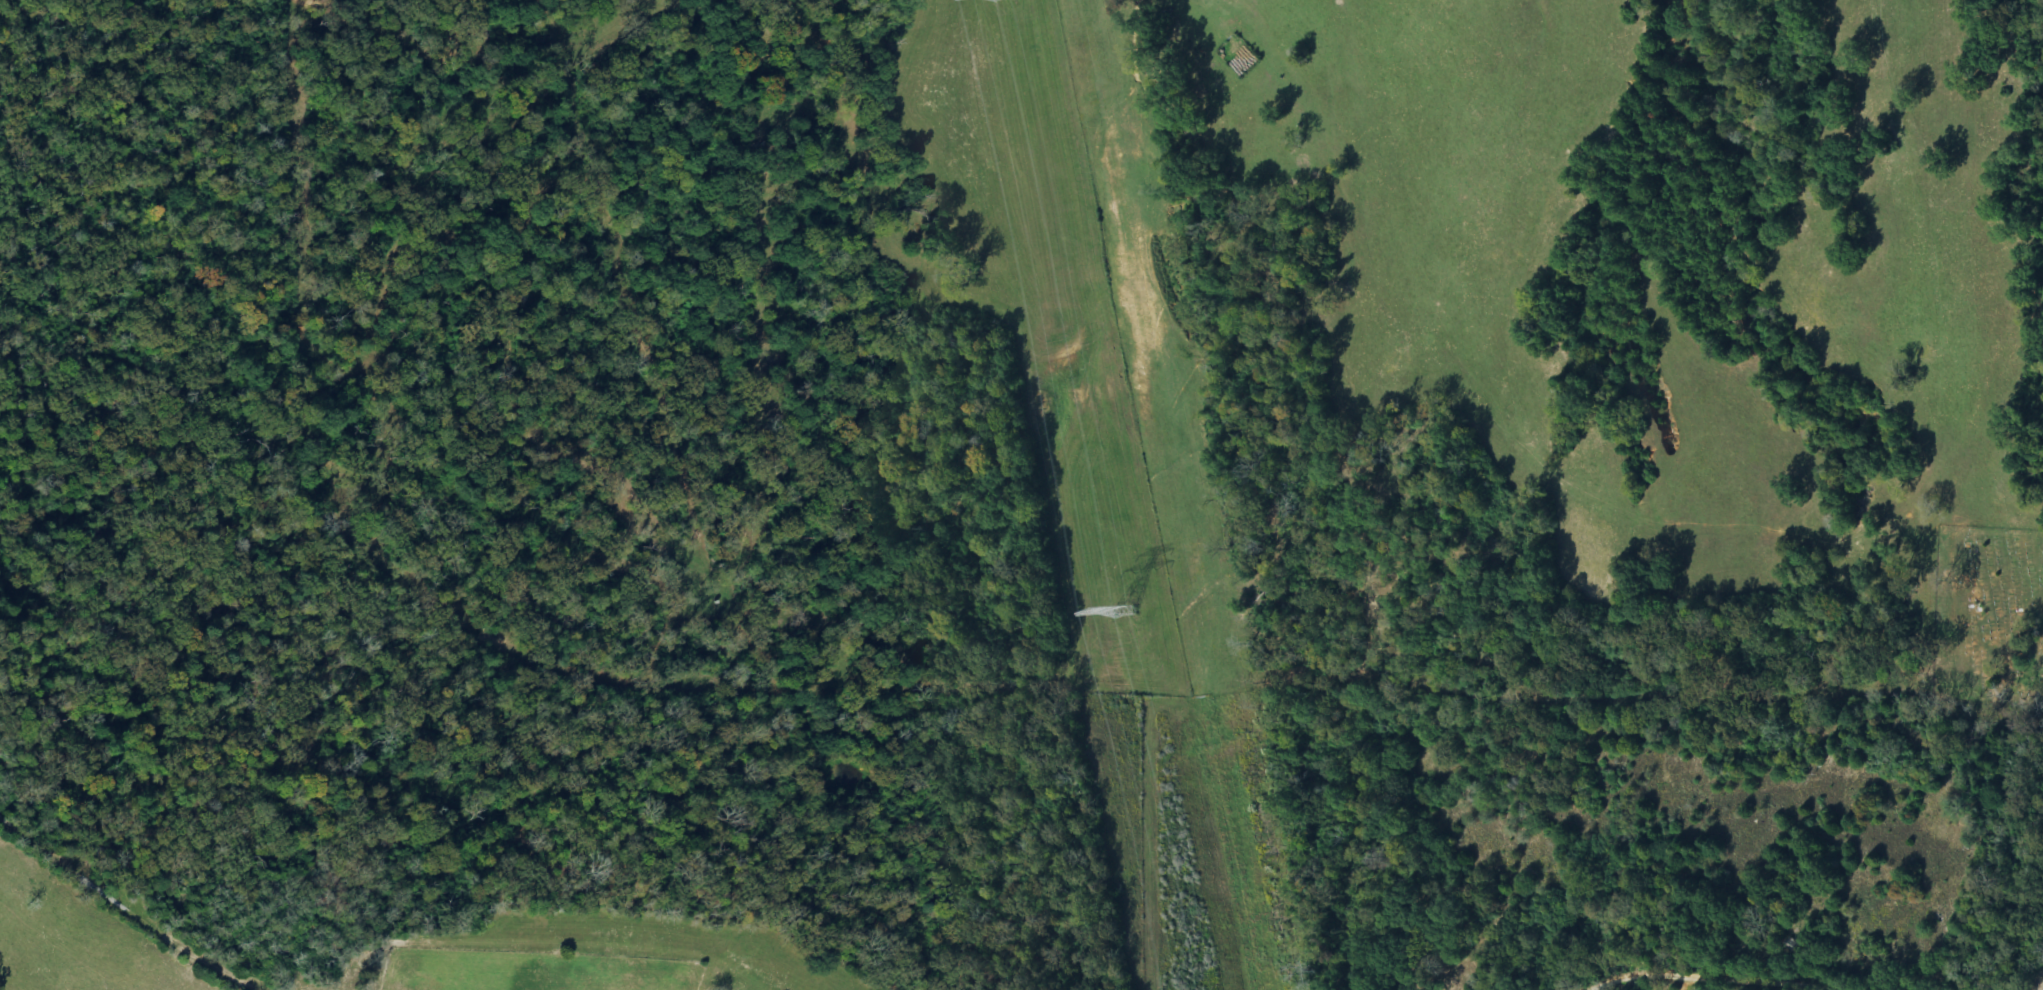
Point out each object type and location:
road: (1204, 47)
park: (1991, 609)
power tower: (1123, 612)

